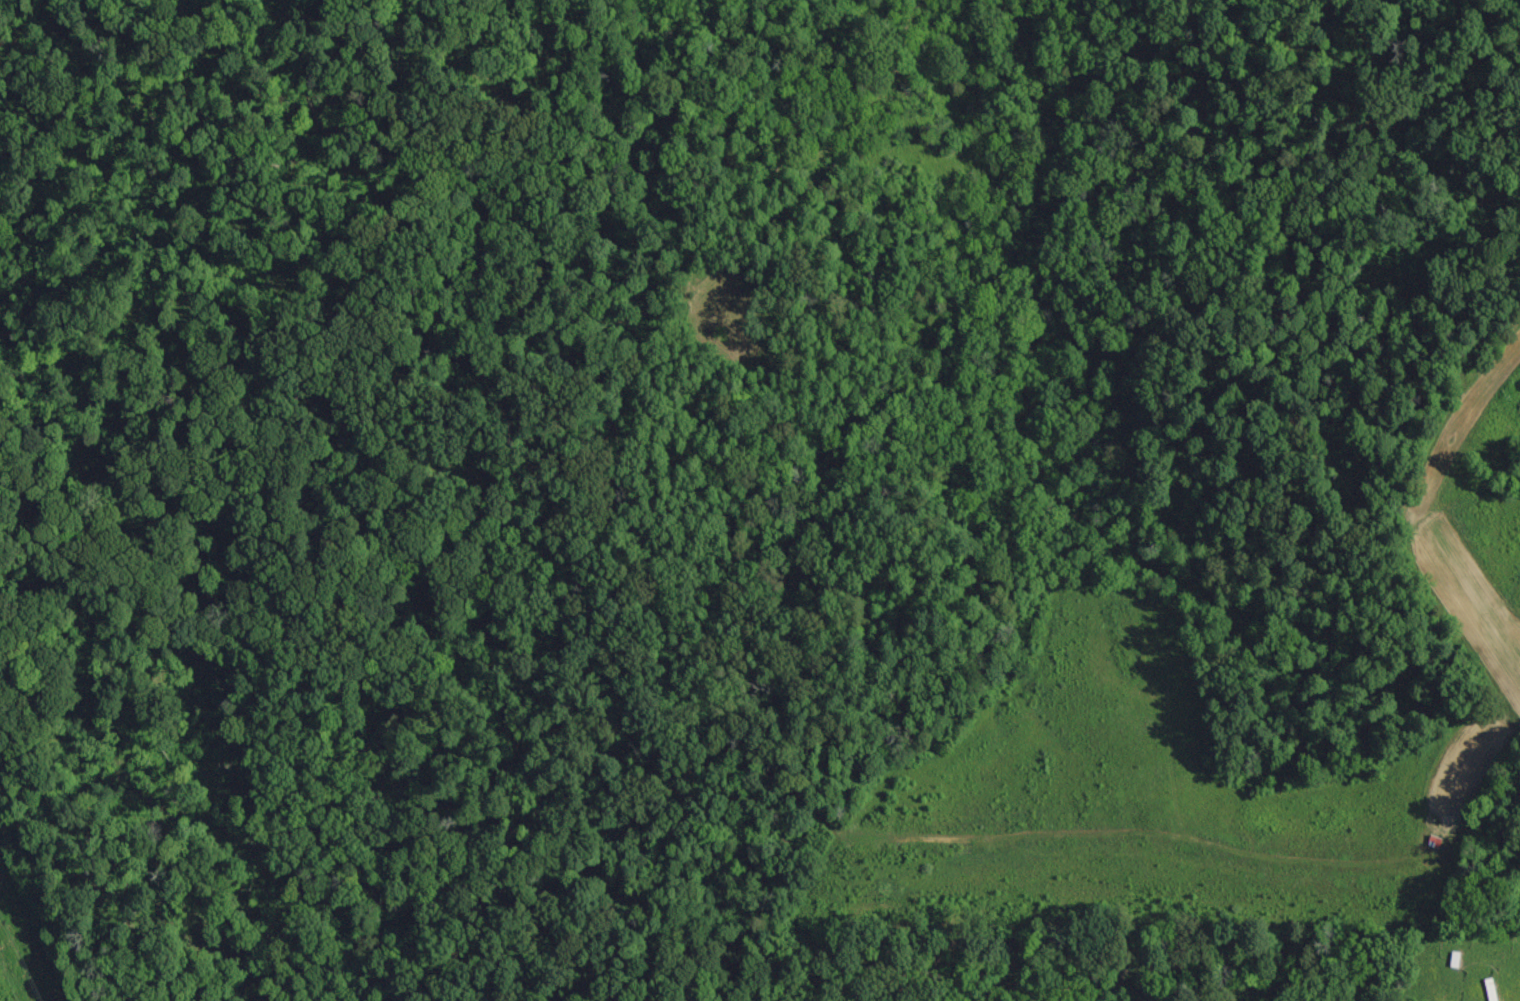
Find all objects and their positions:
building: (1431, 842)

